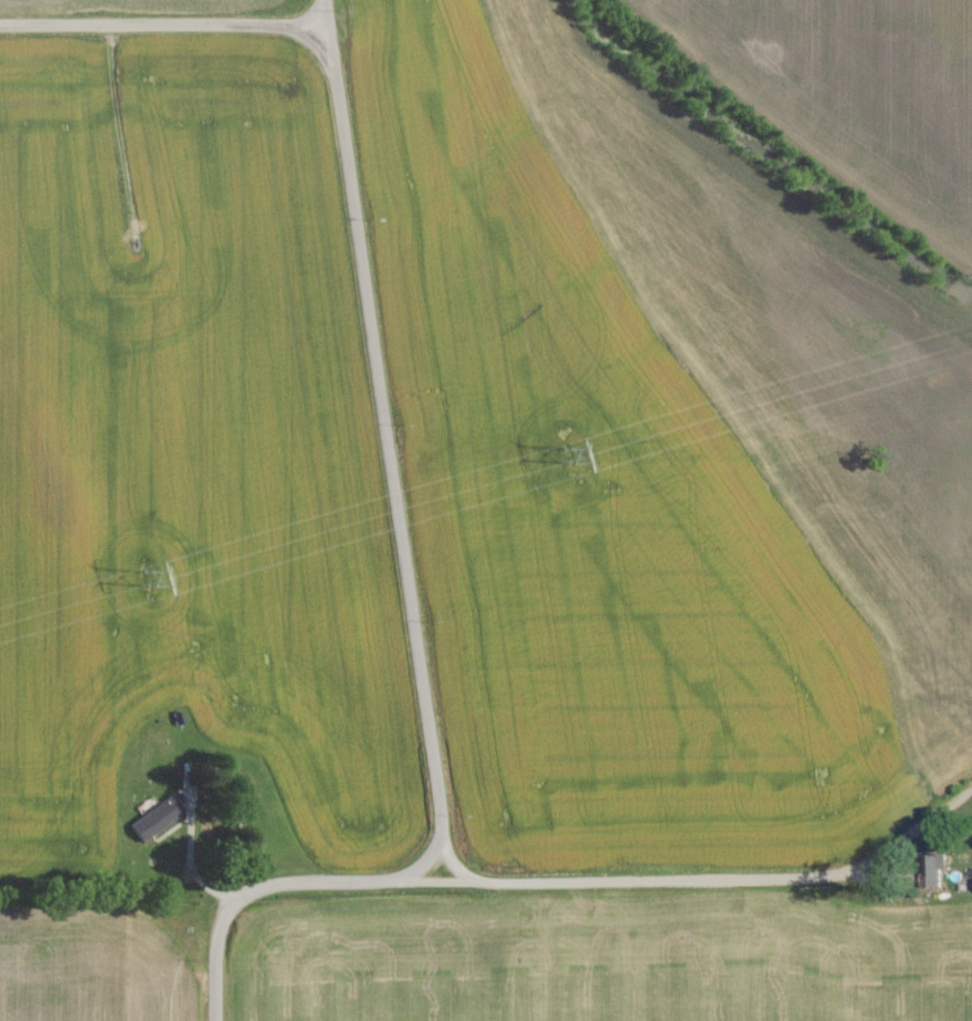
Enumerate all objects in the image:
road: (163, 30)
road: (384, 441)
power tower: (566, 462)
power tower: (148, 583)
building: (937, 875)
road: (725, 883)
road: (320, 885)
road: (212, 978)

